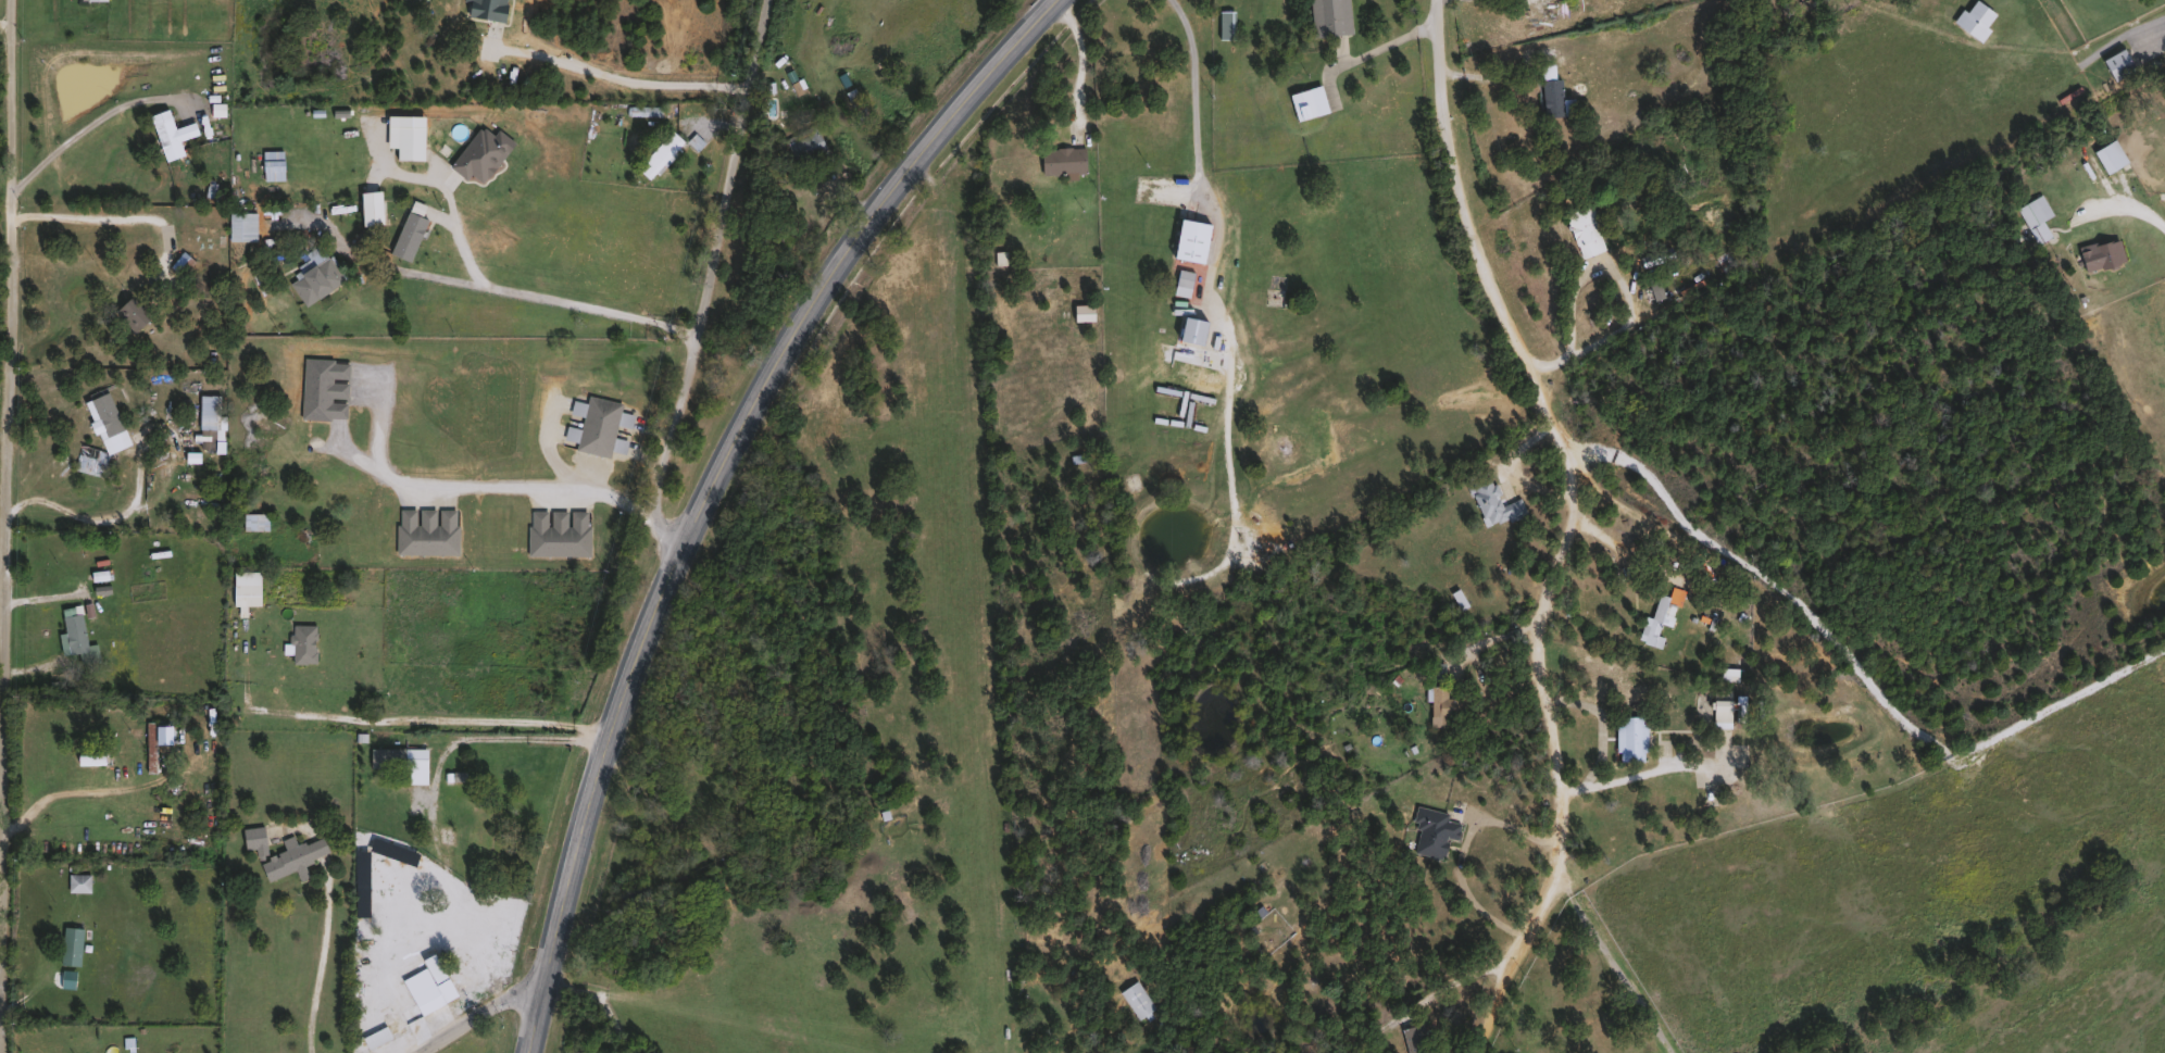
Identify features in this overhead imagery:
building: (96, 0)
building: (1328, 16)
building: (1974, 20)
building: (1225, 24)
road: (4, 26)
road: (2161, 27)
building: (1605, 34)
road: (1442, 35)
road: (1390, 41)
road: (1081, 52)
road: (1529, 61)
road: (638, 76)
building: (1551, 92)
road: (1194, 96)
building: (855, 102)
building: (1305, 102)
road: (511, 115)
road: (90, 126)
building: (168, 134)
building: (805, 147)
building: (661, 153)
building: (1061, 160)
building: (271, 164)
road: (2127, 200)
building: (2033, 211)
road: (111, 217)
building: (242, 225)
building: (1585, 228)
building: (398, 237)
building: (1187, 238)
road: (709, 277)
building: (1181, 277)
building: (313, 278)
building: (1653, 285)
road: (1631, 296)
road: (548, 301)
building: (128, 312)
building: (103, 421)
building: (207, 421)
building: (599, 424)
road: (484, 481)
road: (712, 486)
building: (1492, 501)
building: (253, 521)
road: (97, 522)
road: (3, 526)
building: (558, 532)
road: (1562, 559)
building: (97, 575)
building: (243, 587)
road: (41, 596)
building: (1655, 617)
building: (76, 636)
building: (302, 642)
building: (1440, 706)
building: (1719, 707)
road: (431, 715)
road: (1601, 722)
building: (1628, 737)
building: (149, 747)
building: (396, 756)
building: (88, 760)
road: (1644, 772)
road: (77, 790)
building: (475, 825)
building: (1431, 831)
building: (281, 852)
road: (1460, 853)
building: (78, 882)
building: (71, 945)
road: (1502, 958)
road: (322, 963)
building: (427, 983)
road: (61, 991)
building: (1135, 999)
road: (597, 1006)
road: (487, 1014)
building: (393, 1015)
building: (1414, 1038)

